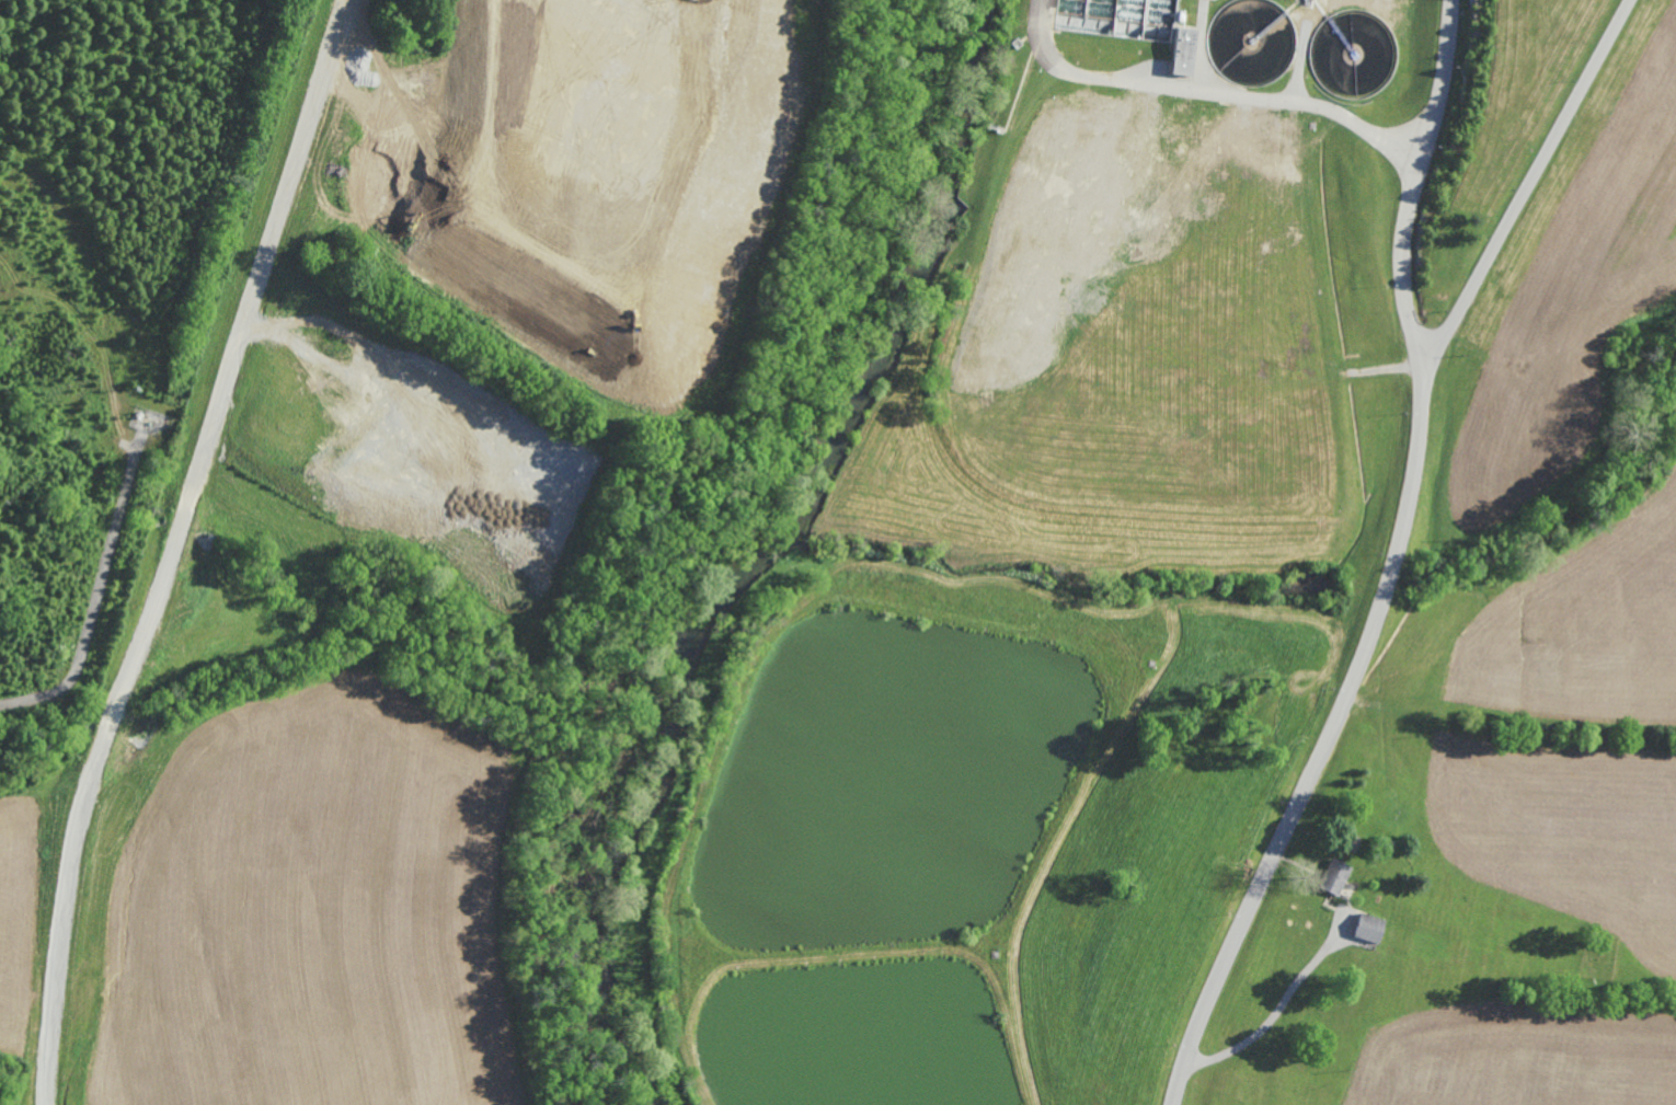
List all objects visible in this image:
building: (1182, 50)
road: (1212, 90)
road: (1415, 188)
road: (93, 334)
road: (1401, 527)
road: (170, 548)
wastewater plant: (906, 569)
road: (95, 600)
building: (1333, 876)
building: (1367, 928)
park: (1598, 956)
road: (1276, 1011)
road: (1179, 1084)

